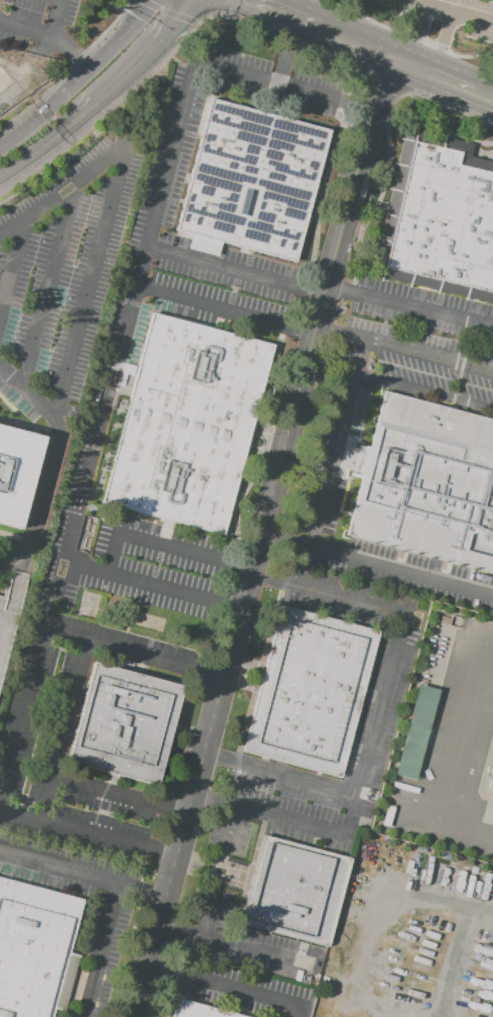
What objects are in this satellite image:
road: (220, 9)
road: (449, 11)
road: (167, 12)
road: (54, 18)
road: (279, 18)
road: (25, 29)
road: (409, 34)
road: (167, 37)
road: (417, 39)
road: (282, 40)
road: (442, 46)
road: (350, 49)
road: (70, 52)
road: (80, 76)
road: (426, 78)
road: (379, 88)
road: (113, 92)
road: (306, 92)
road: (481, 100)
road: (387, 145)
road: (45, 149)
building: (251, 179)
road: (107, 214)
building: (435, 220)
road: (11, 266)
road: (233, 270)
road: (48, 285)
road: (133, 288)
road: (408, 306)
road: (223, 307)
road: (403, 347)
road: (423, 392)
building: (186, 422)
road: (27, 425)
road: (54, 438)
road: (335, 442)
road: (53, 464)
building: (14, 474)
building: (426, 482)
road: (16, 536)
road: (258, 539)
road: (10, 544)
road: (164, 545)
road: (400, 572)
road: (18, 581)
road: (152, 583)
road: (44, 626)
parking lot: (6, 629)
road: (396, 646)
building: (308, 693)
building: (124, 725)
building: (414, 732)
road: (219, 756)
road: (207, 799)
road: (349, 816)
road: (233, 828)
road: (88, 832)
road: (118, 888)
building: (294, 890)
road: (205, 913)
road: (234, 944)
building: (35, 949)
road: (229, 986)
building: (198, 1010)

